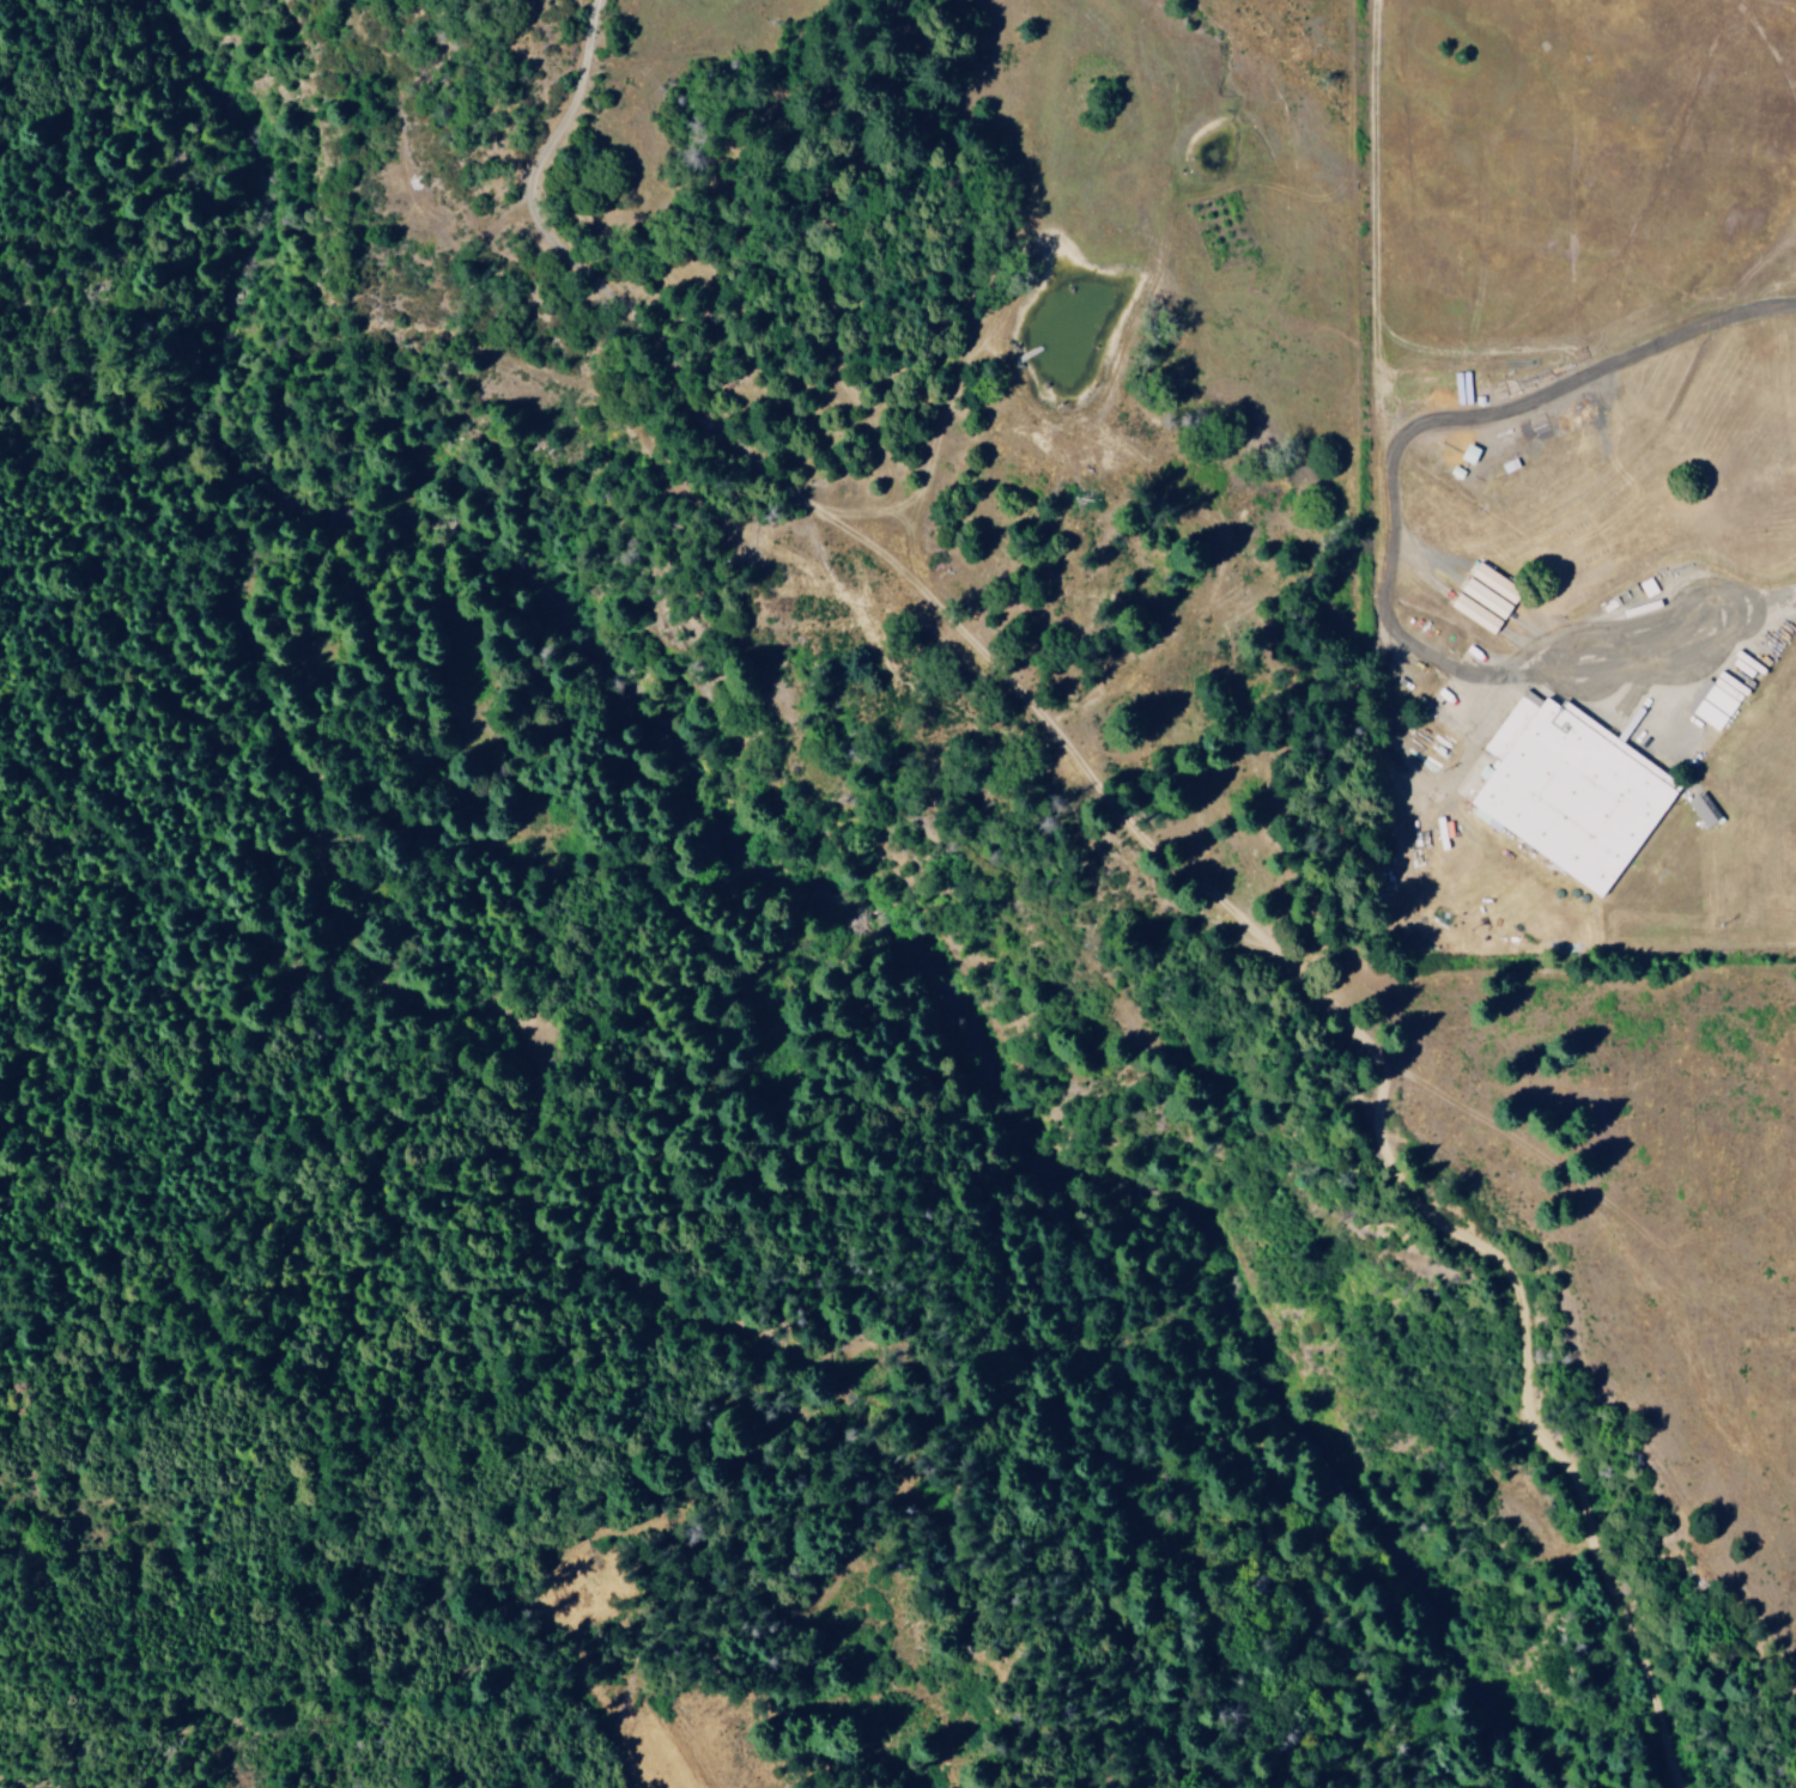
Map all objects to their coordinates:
road: (1656, 571)
building: (1491, 598)
building: (1576, 790)
building: (1706, 808)

